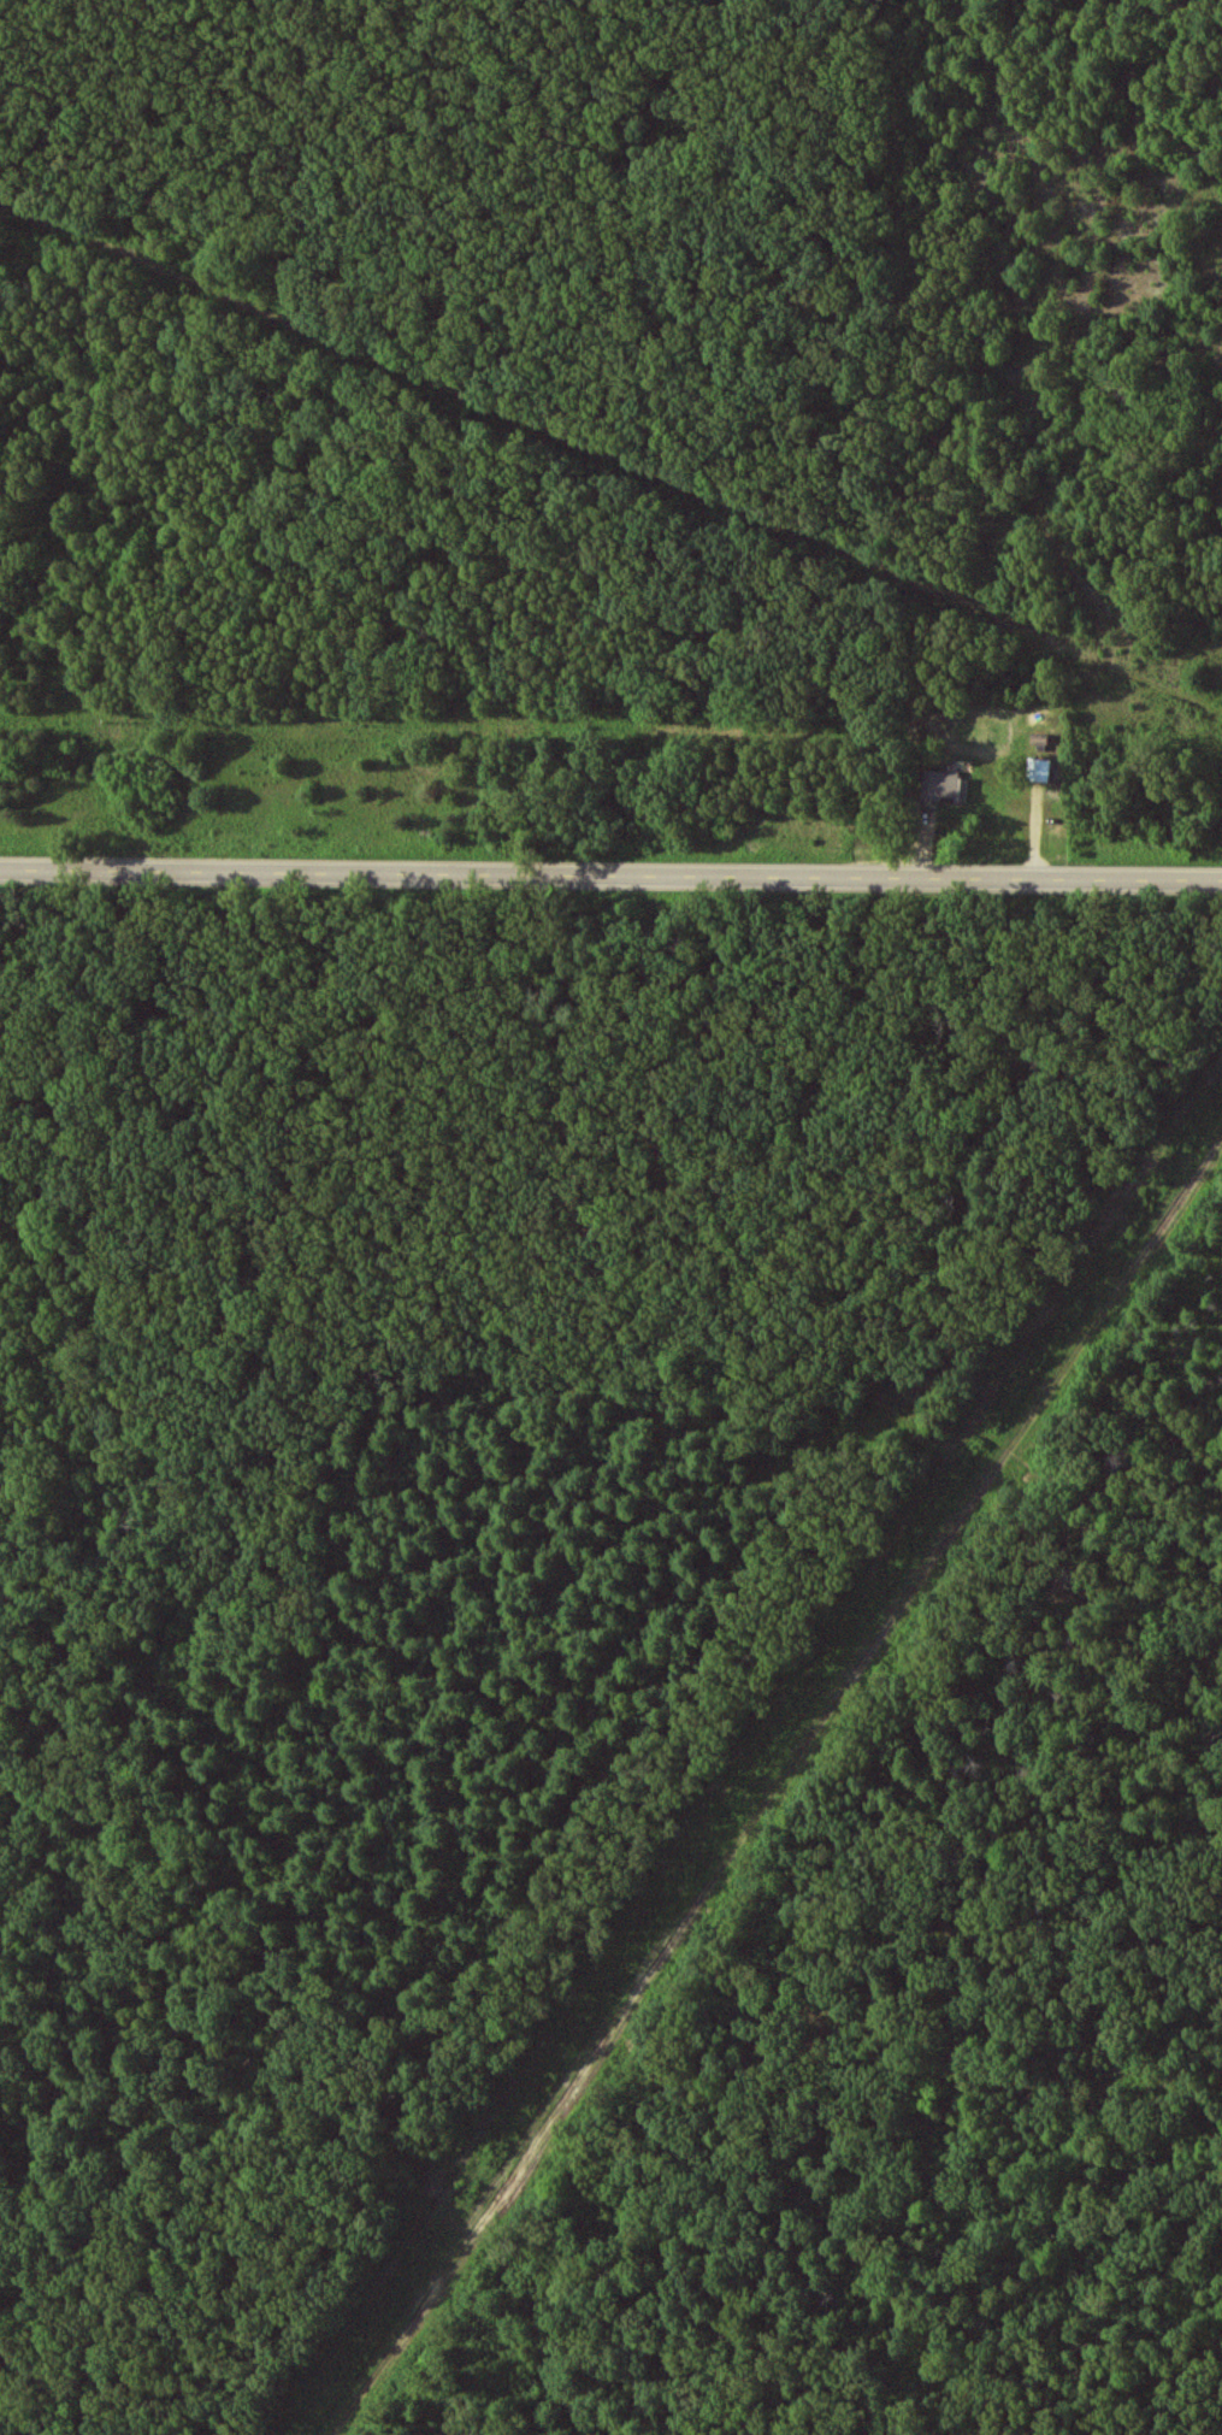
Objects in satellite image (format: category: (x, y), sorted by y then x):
building: (1038, 771)
building: (944, 788)
road: (610, 877)

